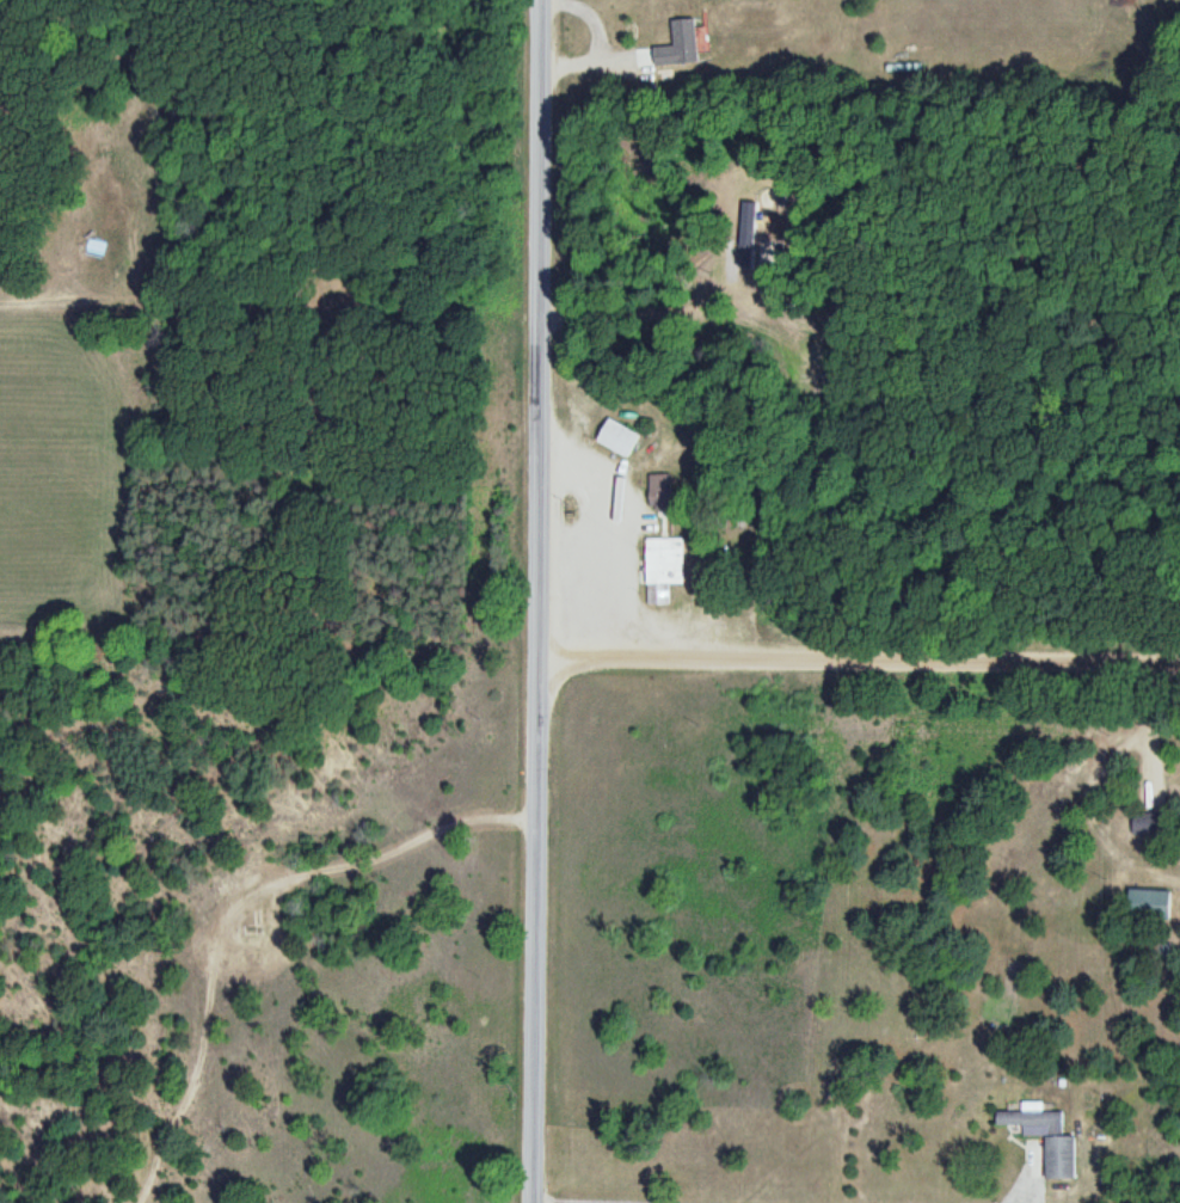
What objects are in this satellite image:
building: (683, 43)
road: (404, 308)
building: (617, 437)
building: (660, 491)
building: (660, 567)
road: (523, 601)
road: (852, 642)
building: (1151, 823)
road: (198, 895)
building: (1150, 901)
building: (1049, 1137)

